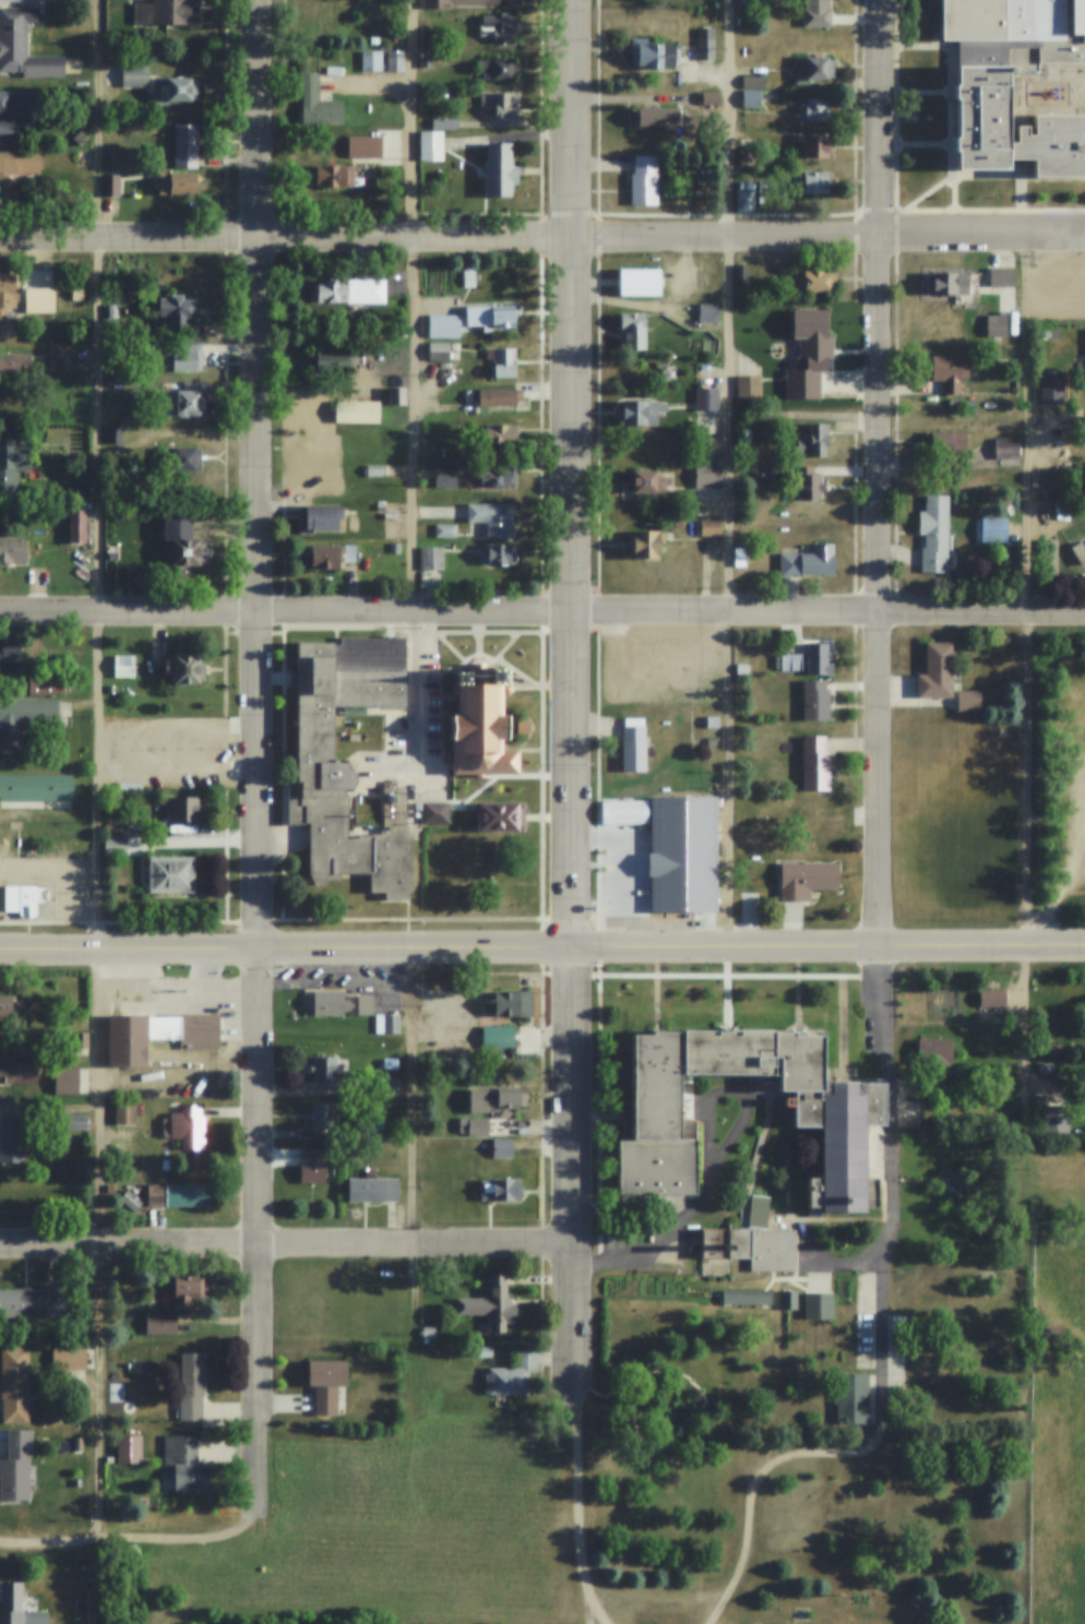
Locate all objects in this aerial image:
building: (456, 2)
building: (166, 12)
building: (816, 13)
building: (500, 25)
building: (396, 34)
building: (427, 39)
building: (705, 43)
building: (24, 45)
building: (653, 53)
building: (426, 58)
building: (371, 60)
building: (395, 60)
building: (497, 70)
building: (810, 70)
building: (134, 74)
building: (753, 82)
building: (174, 89)
building: (82, 94)
building: (708, 98)
building: (751, 99)
building: (983, 99)
building: (17, 101)
building: (317, 103)
building: (501, 105)
building: (815, 110)
building: (654, 116)
building: (444, 123)
building: (8, 132)
building: (80, 138)
building: (430, 145)
building: (818, 146)
building: (363, 147)
building: (747, 155)
building: (111, 157)
building: (182, 164)
building: (500, 170)
building: (15, 172)
building: (334, 176)
building: (644, 181)
building: (700, 181)
building: (811, 183)
building: (110, 186)
building: (744, 201)
road: (830, 237)
road: (287, 240)
building: (740, 274)
building: (1002, 277)
building: (811, 280)
building: (468, 283)
building: (639, 283)
building: (946, 284)
building: (347, 291)
building: (77, 296)
building: (7, 299)
building: (39, 300)
road: (420, 307)
building: (176, 310)
building: (708, 310)
building: (489, 317)
building: (445, 325)
building: (808, 325)
building: (995, 326)
building: (631, 332)
building: (190, 336)
building: (439, 350)
building: (63, 357)
building: (182, 357)
building: (332, 361)
building: (503, 361)
building: (11, 363)
building: (810, 369)
building: (949, 371)
building: (661, 372)
building: (748, 386)
building: (501, 396)
building: (707, 398)
building: (187, 403)
building: (356, 413)
building: (640, 413)
building: (1013, 414)
building: (760, 415)
building: (499, 434)
building: (112, 435)
building: (814, 441)
building: (939, 442)
building: (1005, 447)
building: (318, 449)
building: (460, 454)
building: (187, 459)
building: (11, 462)
building: (375, 470)
road: (725, 473)
building: (498, 475)
road: (882, 475)
building: (706, 476)
building: (445, 477)
building: (646, 481)
building: (800, 481)
building: (321, 483)
building: (1054, 490)
building: (320, 517)
building: (492, 518)
building: (77, 526)
building: (711, 527)
building: (444, 530)
building: (934, 539)
building: (643, 545)
building: (395, 548)
building: (13, 550)
building: (187, 550)
building: (347, 552)
building: (499, 553)
building: (1078, 554)
building: (322, 557)
building: (740, 557)
building: (431, 558)
building: (808, 562)
building: (136, 569)
road: (1026, 593)
road: (830, 612)
road: (287, 613)
building: (10, 659)
building: (818, 660)
building: (790, 664)
parking lot: (661, 666)
building: (186, 670)
building: (742, 671)
building: (937, 673)
building: (41, 685)
building: (131, 689)
road: (575, 689)
building: (814, 702)
building: (968, 704)
building: (23, 719)
building: (712, 723)
building: (482, 727)
building: (523, 728)
parking lot: (412, 733)
building: (711, 742)
building: (187, 744)
building: (633, 745)
road: (262, 755)
building: (815, 765)
road: (104, 768)
building: (325, 774)
building: (36, 788)
building: (394, 808)
building: (186, 811)
building: (436, 813)
building: (500, 817)
building: (690, 821)
building: (112, 831)
building: (831, 831)
building: (116, 846)
building: (669, 870)
building: (170, 875)
building: (806, 880)
road: (1057, 898)
building: (24, 900)
road: (953, 910)
road: (288, 950)
road: (830, 950)
road: (1025, 995)
building: (334, 1003)
building: (511, 1003)
building: (11, 1006)
building: (63, 1011)
building: (438, 1016)
building: (466, 1017)
building: (391, 1024)
building: (199, 1031)
building: (498, 1037)
building: (163, 1039)
building: (80, 1040)
building: (127, 1040)
building: (1049, 1050)
building: (935, 1051)
building: (323, 1067)
building: (1046, 1070)
building: (8, 1073)
building: (64, 1080)
building: (388, 1085)
road: (417, 1097)
building: (493, 1099)
parking lot: (908, 1103)
building: (124, 1113)
building: (321, 1115)
building: (839, 1118)
building: (73, 1123)
building: (474, 1125)
building: (692, 1126)
building: (184, 1127)
building: (306, 1134)
building: (11, 1139)
building: (501, 1147)
building: (165, 1165)
building: (312, 1166)
road: (942, 1169)
road: (892, 1187)
building: (372, 1189)
building: (499, 1190)
building: (180, 1195)
road: (958, 1196)
building: (758, 1210)
road: (288, 1245)
chimney: (727, 1245)
building: (752, 1246)
road: (831, 1264)
parking lot: (818, 1281)
building: (188, 1290)
building: (747, 1298)
building: (788, 1300)
building: (34, 1302)
building: (490, 1304)
parking lot: (863, 1321)
building: (160, 1323)
building: (482, 1351)
building: (70, 1359)
building: (512, 1375)
building: (14, 1383)
building: (325, 1384)
building: (191, 1385)
building: (853, 1397)
building: (129, 1448)
building: (109, 1459)
building: (184, 1462)
building: (15, 1466)
road: (753, 1480)
road: (576, 1505)
road: (133, 1538)
building: (81, 1605)
building: (17, 1607)
building: (799, 1614)
road: (589, 1615)

